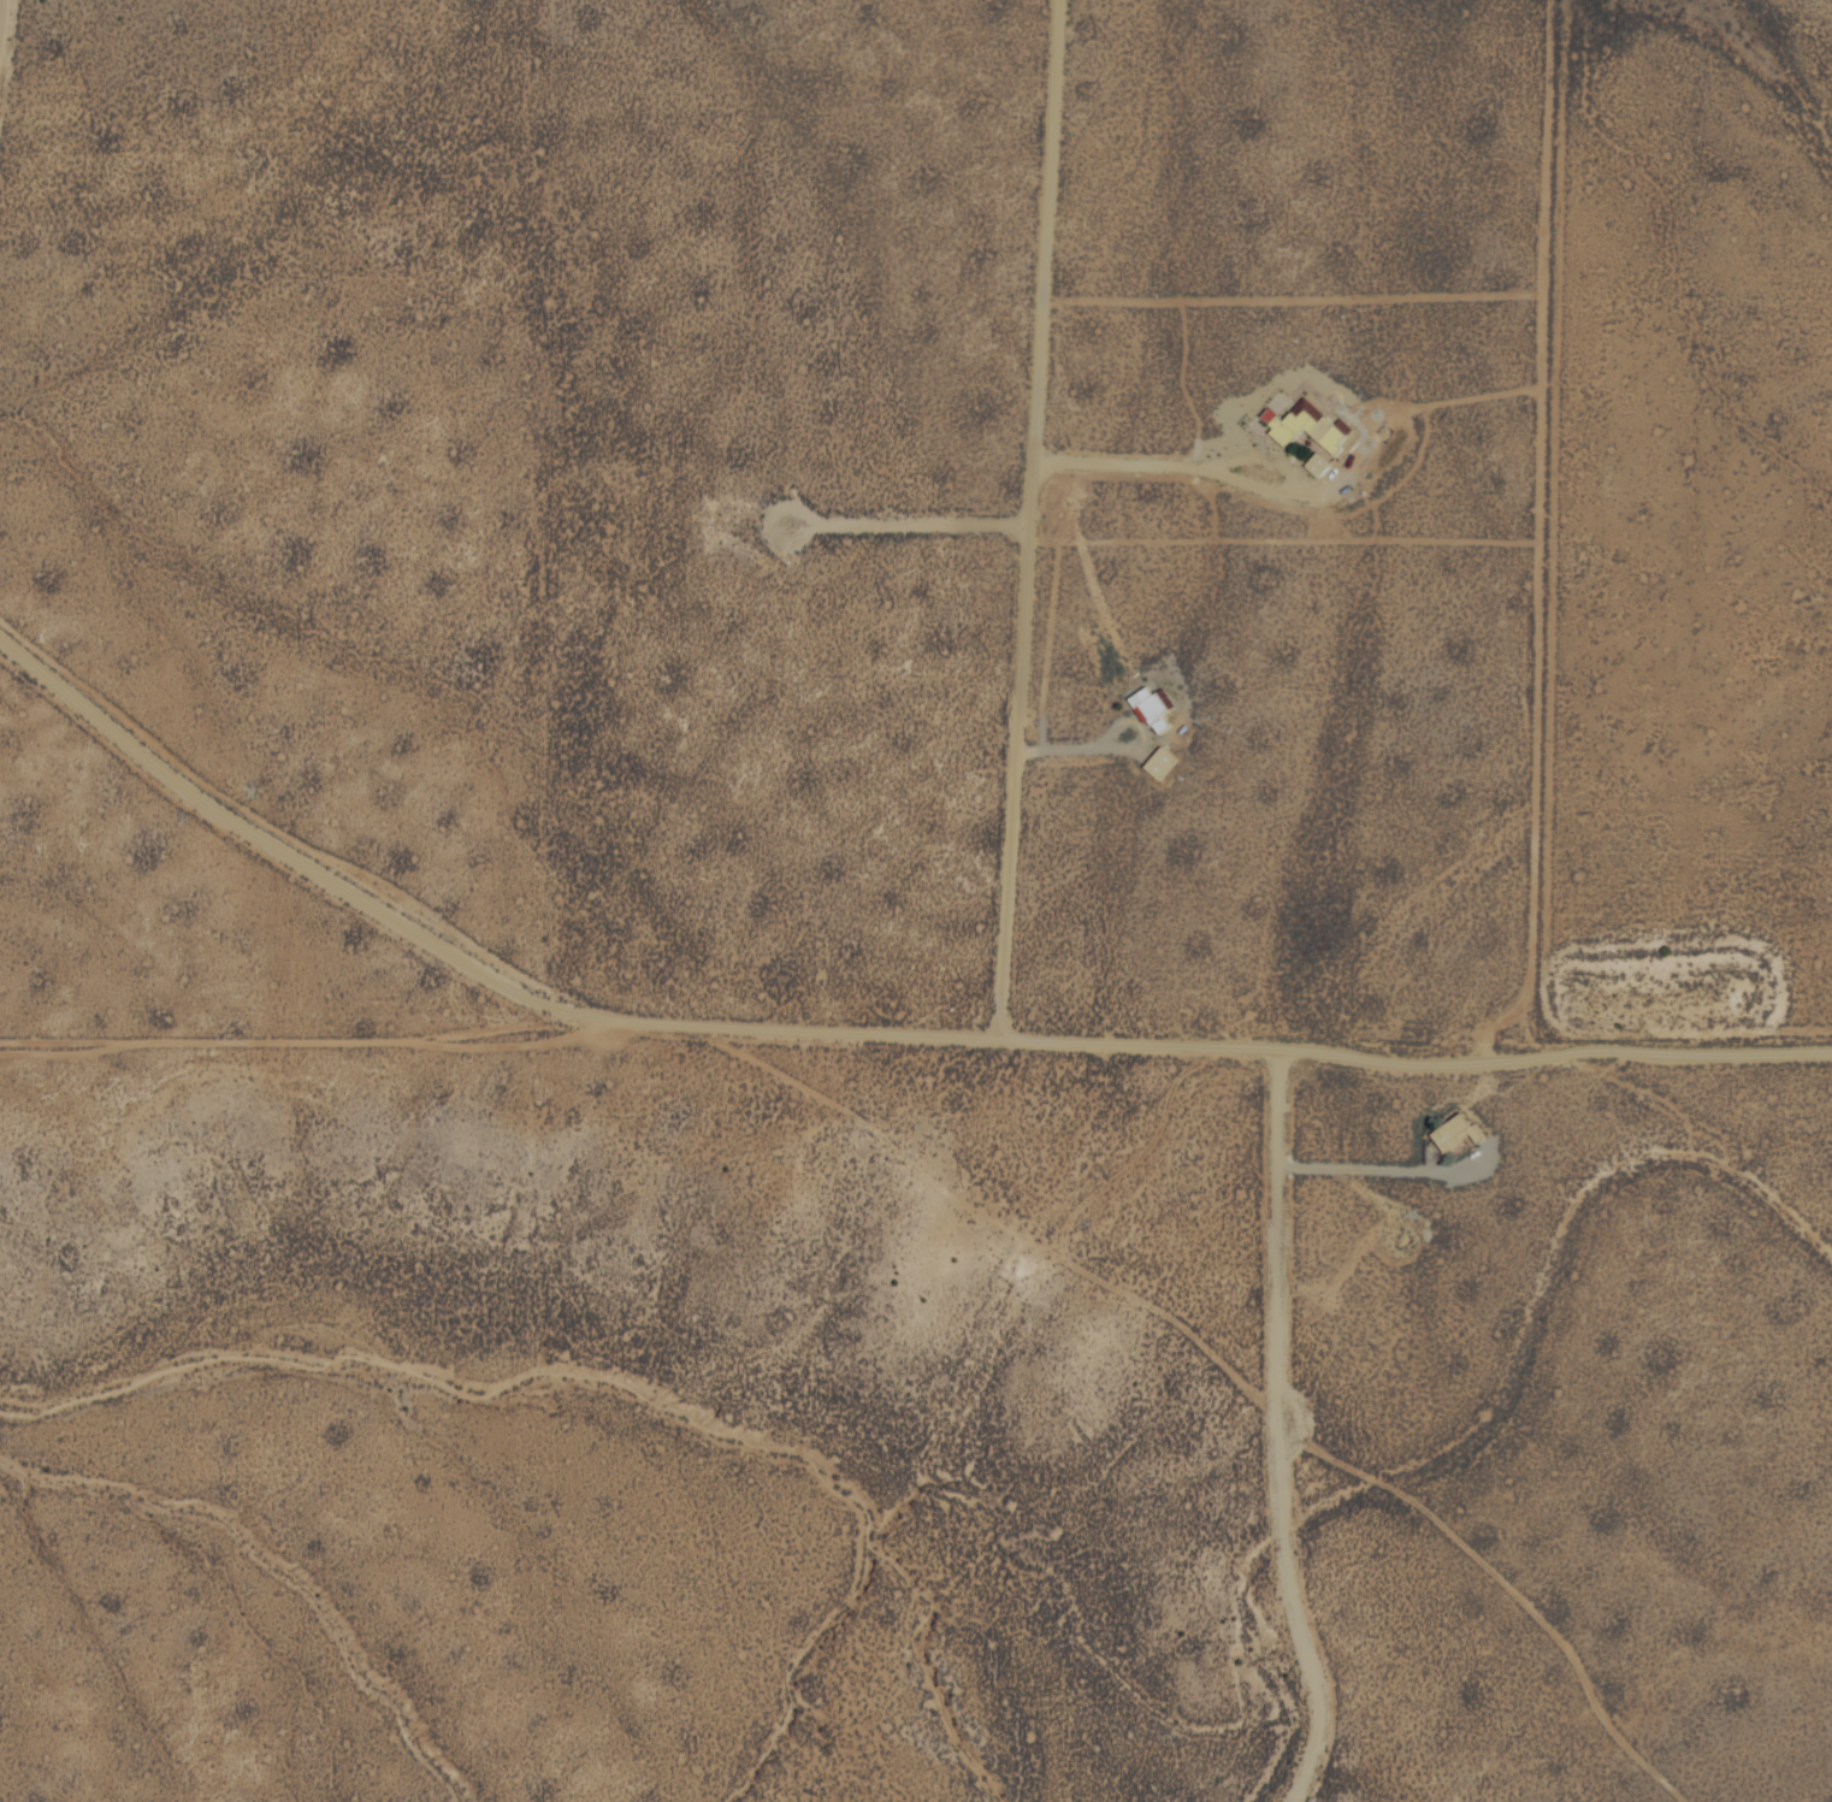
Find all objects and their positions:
road: (1028, 516)
road: (253, 833)
road: (1183, 1041)
road: (1235, 1370)

